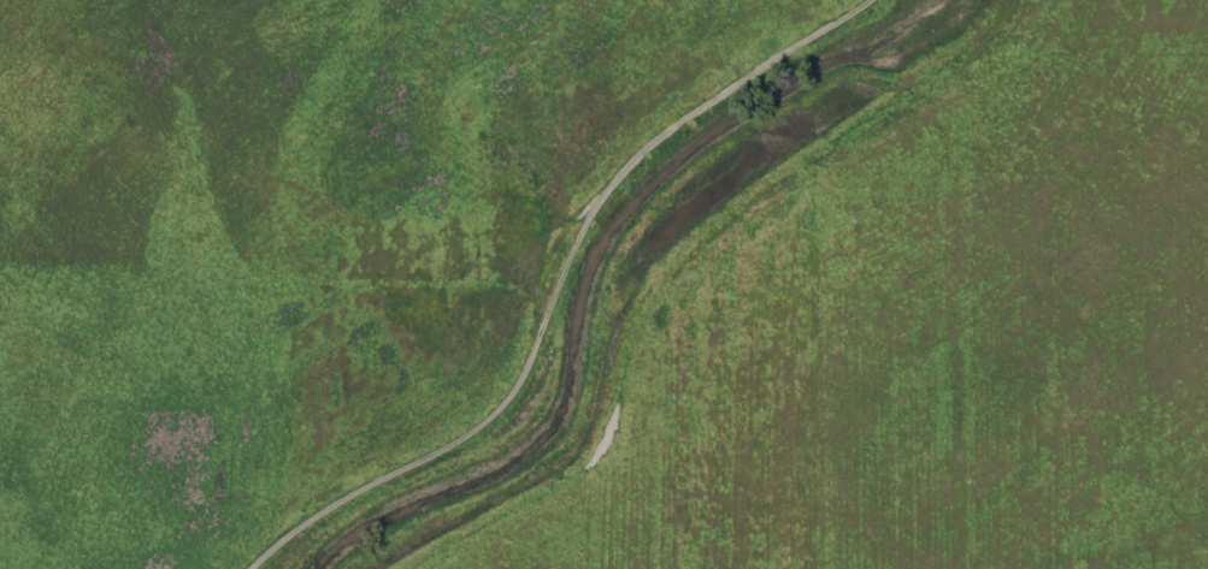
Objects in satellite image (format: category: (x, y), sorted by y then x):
river: (608, 267)

